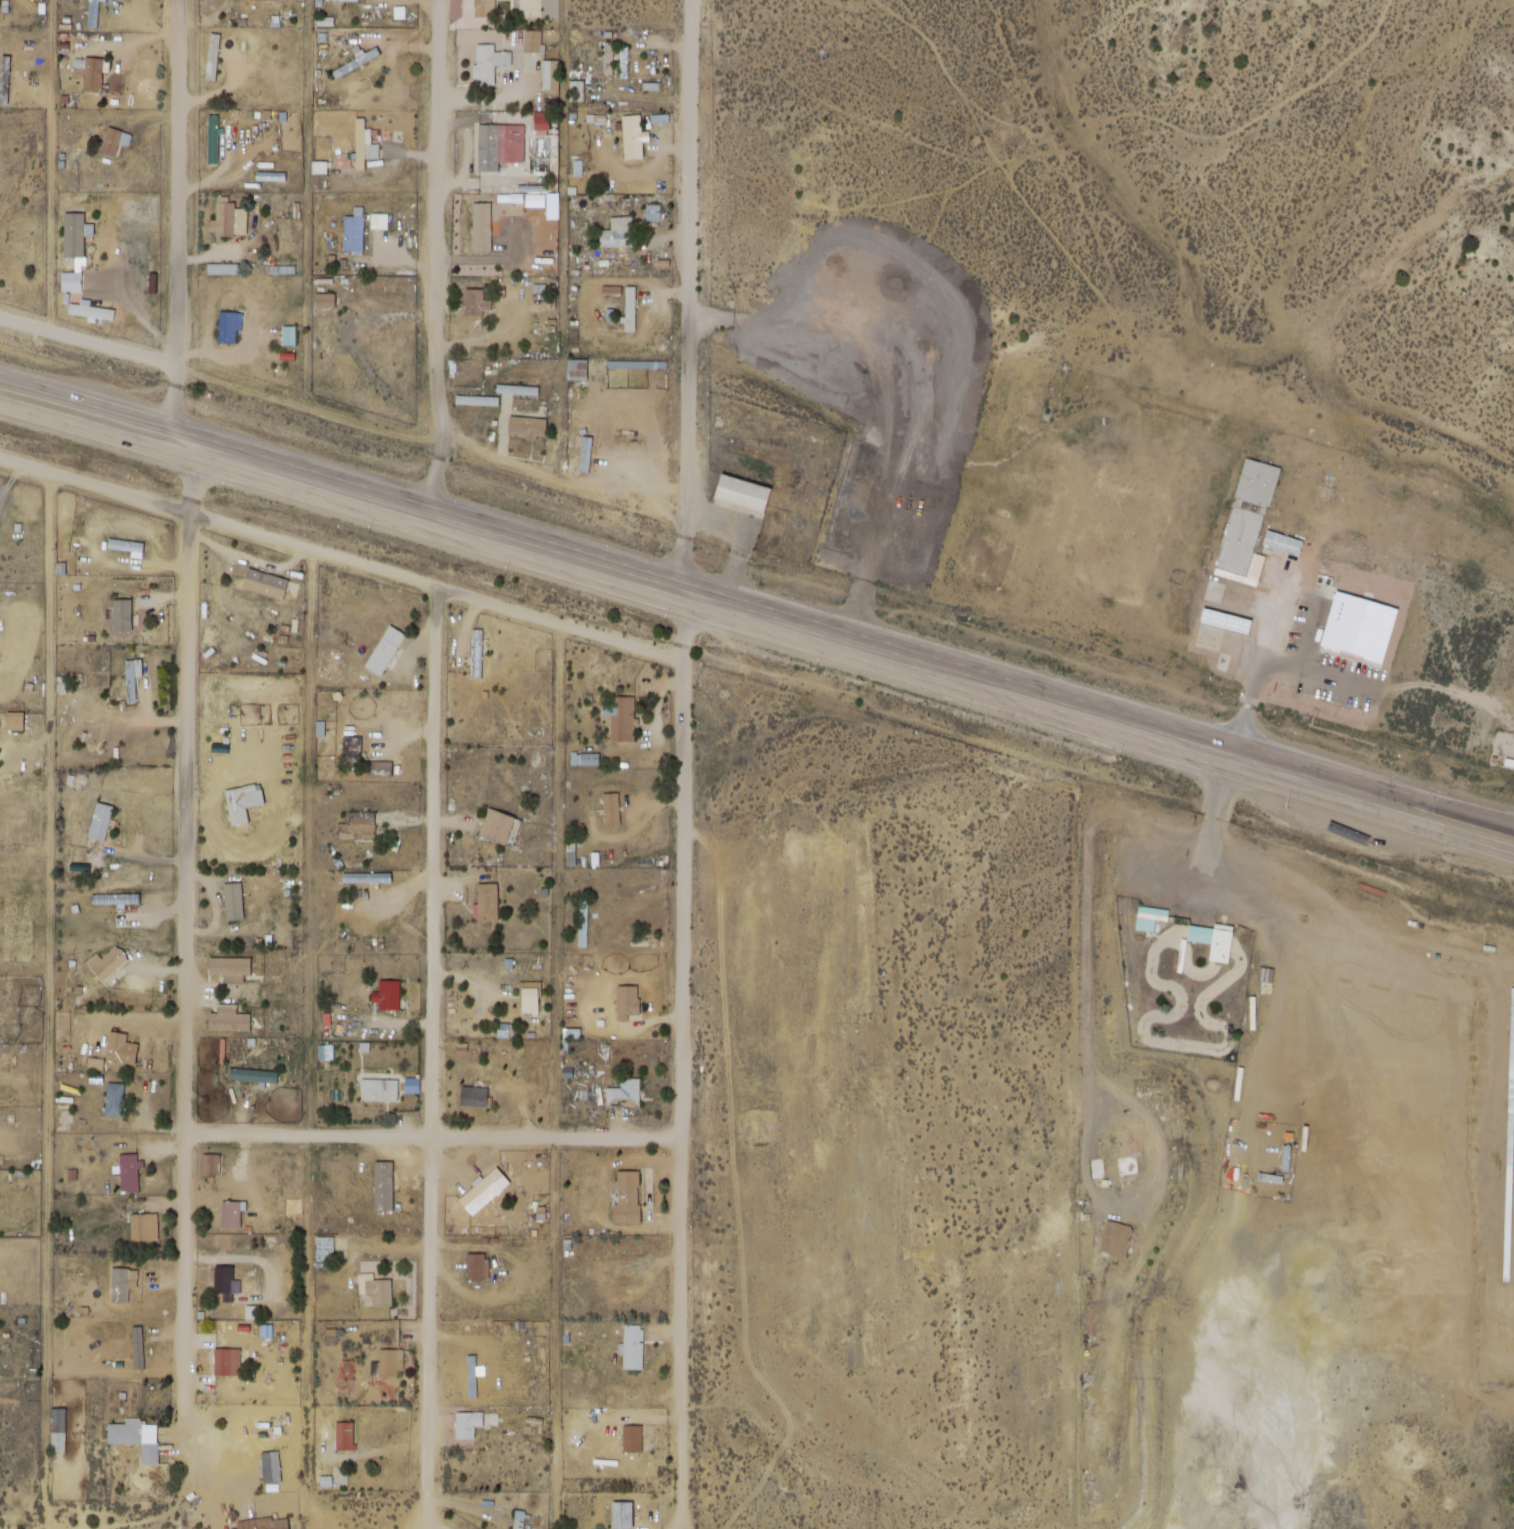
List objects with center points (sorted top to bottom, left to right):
building: (253, 0)
building: (343, 0)
building: (485, 8)
building: (94, 13)
building: (89, 73)
building: (633, 137)
building: (112, 141)
building: (365, 145)
building: (497, 146)
road: (61, 167)
road: (179, 184)
building: (224, 217)
building: (379, 222)
building: (482, 228)
building: (354, 233)
building: (618, 233)
road: (436, 263)
road: (688, 302)
building: (475, 303)
building: (325, 340)
road: (90, 343)
building: (577, 369)
building: (477, 400)
road: (175, 410)
building: (527, 426)
road: (432, 444)
building: (585, 456)
building: (743, 494)
building: (1249, 521)
road: (498, 527)
building: (125, 545)
road: (495, 548)
road: (341, 558)
building: (265, 584)
road: (1414, 606)
building: (122, 615)
building: (1235, 623)
gas station: (1235, 623)
building: (1359, 633)
building: (386, 651)
road: (1245, 654)
building: (477, 655)
building: (132, 679)
road: (1397, 692)
building: (621, 719)
building: (14, 722)
road: (1217, 740)
building: (352, 751)
road: (1242, 756)
building: (589, 759)
building: (380, 769)
road: (1251, 777)
building: (237, 807)
building: (611, 809)
road: (1475, 812)
road: (1475, 817)
building: (100, 822)
building: (359, 825)
building: (497, 826)
building: (488, 903)
building: (1150, 918)
building: (583, 923)
building: (1201, 935)
building: (107, 964)
road: (185, 966)
building: (230, 970)
road: (49, 986)
building: (389, 996)
building: (532, 998)
building: (622, 1003)
building: (231, 1020)
road: (310, 1043)
building: (116, 1048)
road: (434, 1048)
road: (682, 1056)
building: (254, 1076)
road: (556, 1077)
building: (380, 1090)
building: (625, 1094)
building: (474, 1098)
building: (115, 1100)
road: (434, 1135)
building: (1103, 1158)
building: (211, 1165)
building: (129, 1174)
building: (383, 1186)
building: (627, 1197)
building: (231, 1216)
building: (146, 1228)
building: (1117, 1239)
building: (476, 1268)
building: (226, 1281)
building: (120, 1286)
building: (377, 1290)
building: (633, 1346)
building: (227, 1361)
building: (388, 1363)
building: (468, 1423)
building: (58, 1429)
building: (345, 1435)
building: (136, 1437)
building: (633, 1438)
building: (271, 1466)
building: (618, 1514)
road: (416, 1518)
building: (521, 1519)
building: (266, 1523)

